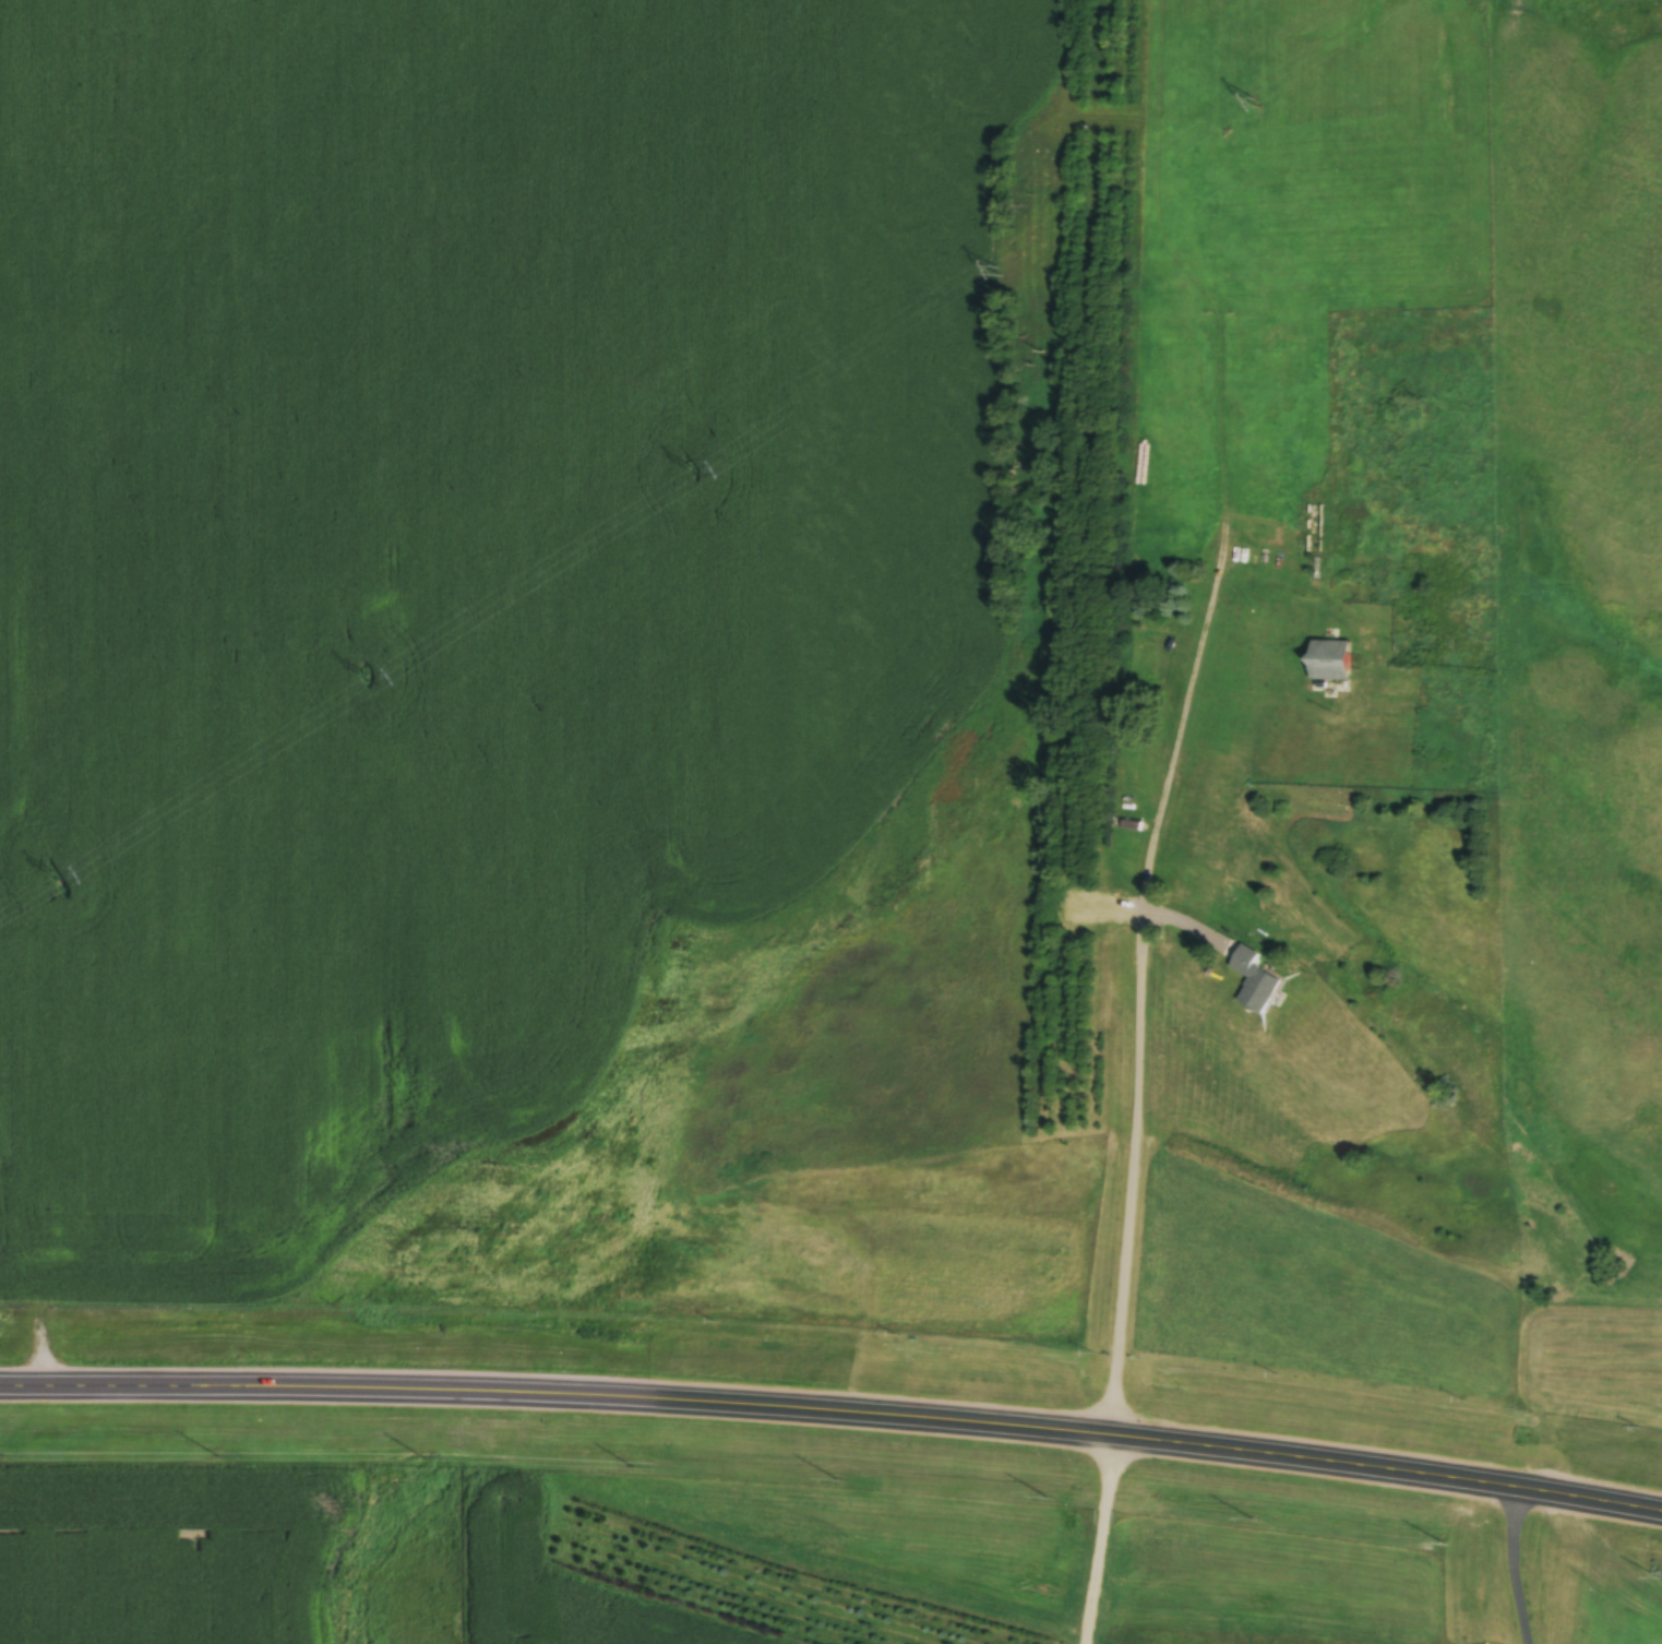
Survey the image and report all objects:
power tower: (1256, 107)
power tower: (997, 275)
power tower: (689, 474)
building: (1336, 663)
power tower: (361, 680)
building: (1135, 827)
road: (1155, 867)
power tower: (51, 880)
building: (1262, 984)
road: (211, 1387)
road: (1043, 1425)
crop: (175, 1557)
road: (1507, 1563)

